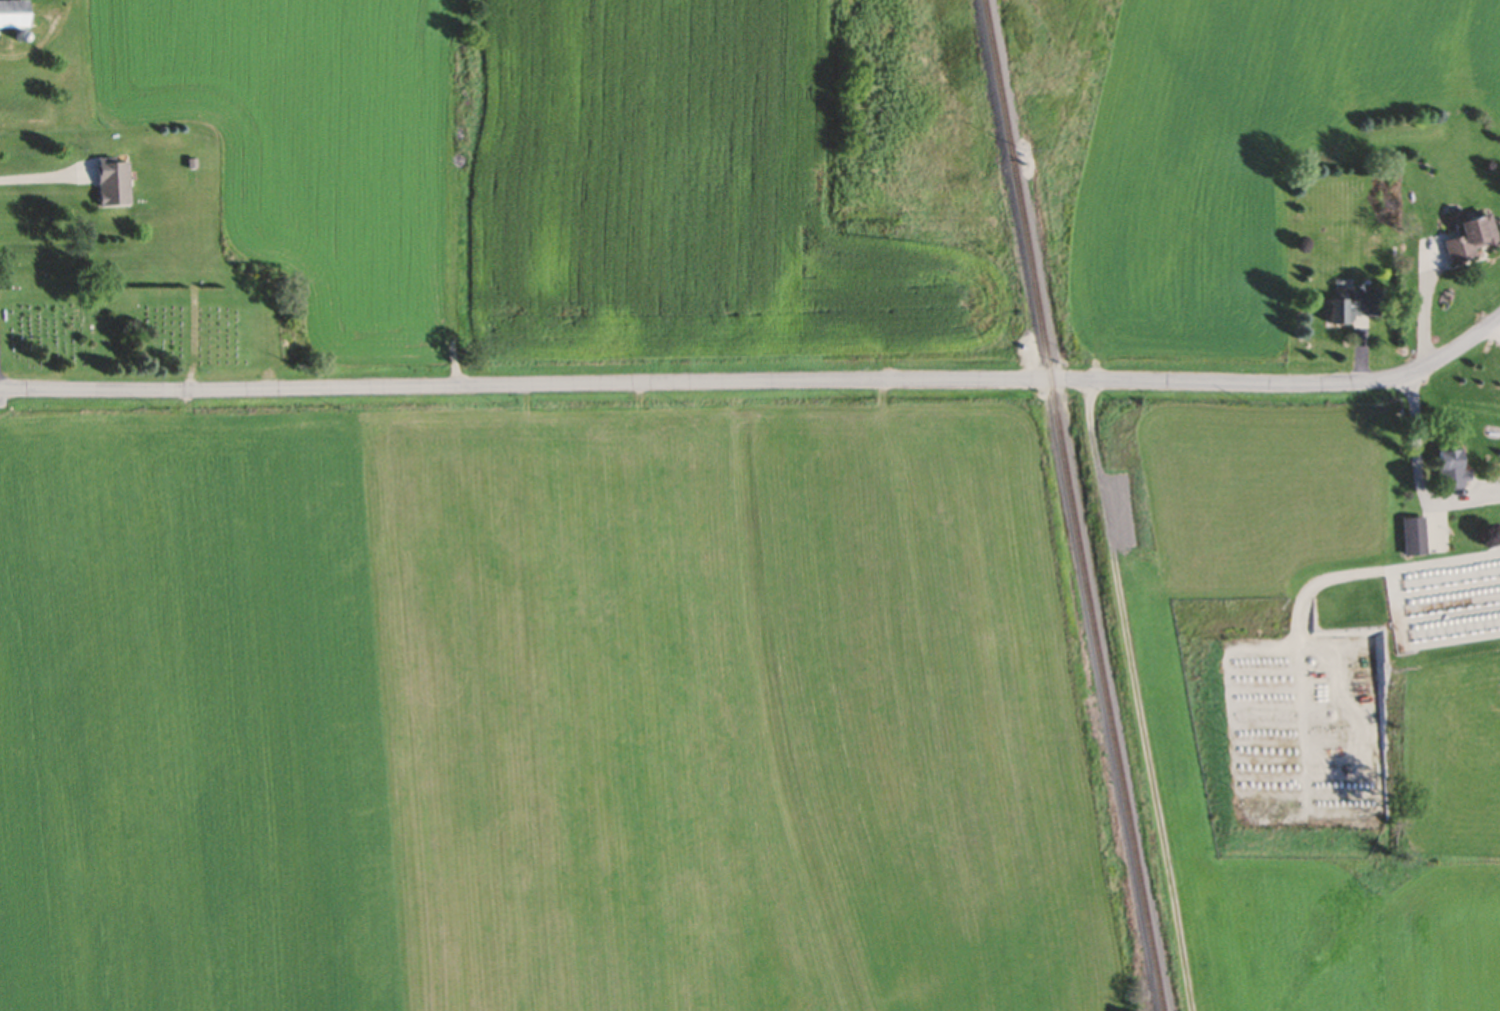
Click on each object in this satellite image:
building: (11, 16)
road: (36, 180)
building: (109, 183)
building: (1469, 239)
building: (1348, 307)
road: (758, 382)
building: (1449, 472)
road: (1417, 474)
railway: (1076, 506)
building: (1411, 538)
road: (1139, 696)

